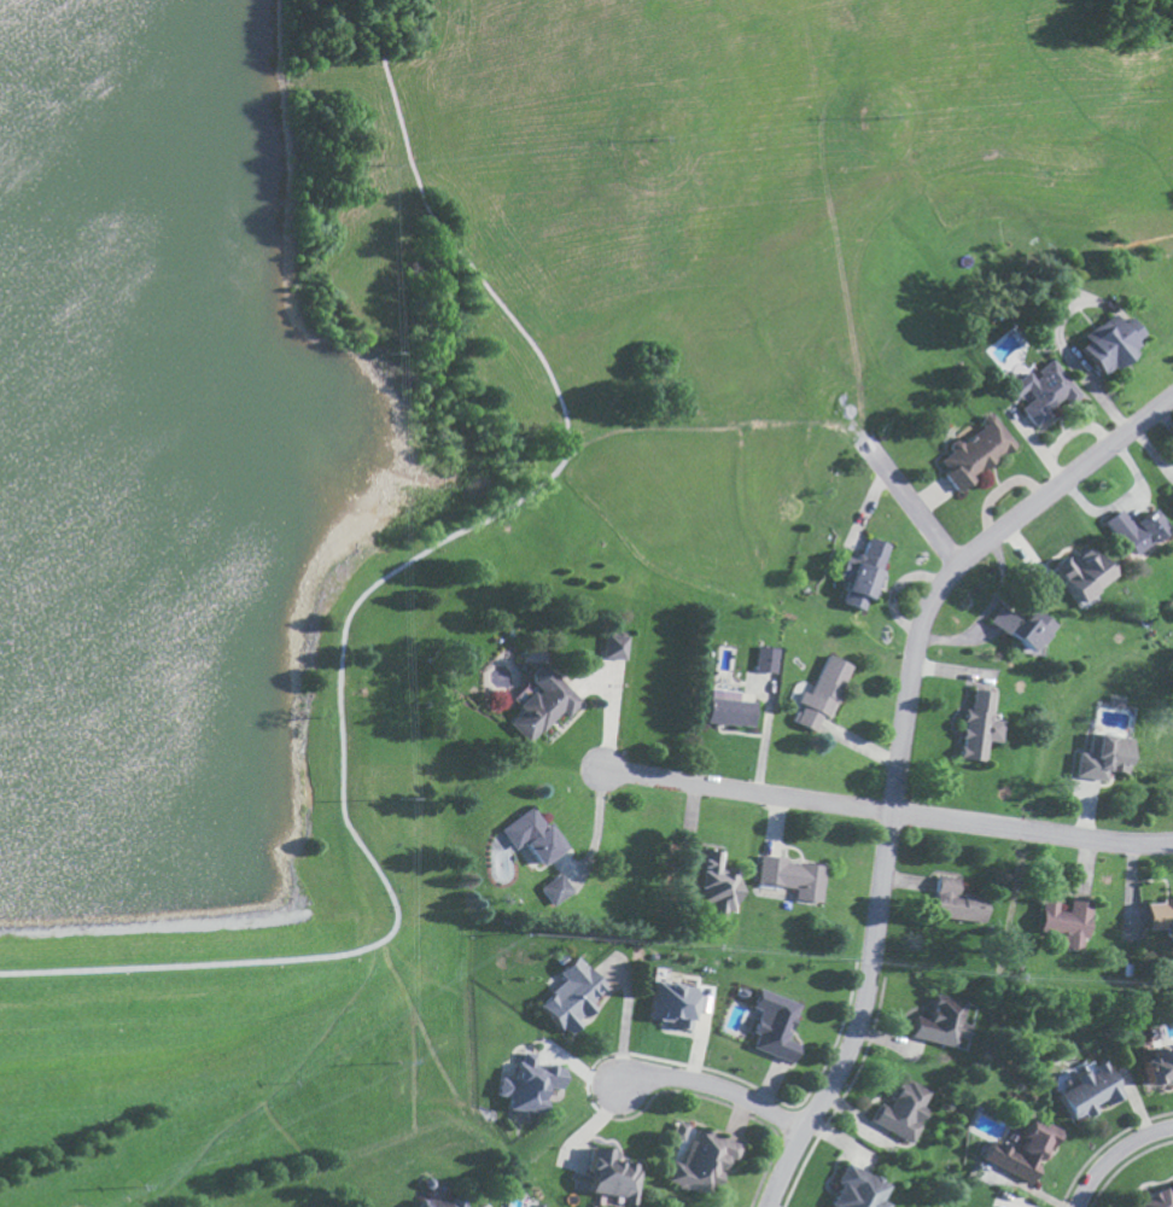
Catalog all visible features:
building: (1113, 343)
building: (1043, 391)
building: (973, 453)
park: (245, 468)
road: (1131, 502)
road: (909, 505)
building: (1138, 530)
building: (873, 553)
building: (1081, 573)
building: (858, 587)
road: (373, 593)
building: (1020, 626)
building: (612, 647)
building: (766, 659)
building: (822, 693)
building: (537, 704)
building: (725, 710)
building: (980, 727)
road: (899, 756)
building: (1108, 758)
road: (888, 814)
building: (527, 836)
building: (790, 877)
building: (713, 885)
building: (550, 891)
building: (957, 903)
building: (1161, 916)
building: (1069, 922)
dam: (176, 945)
building: (568, 995)
building: (671, 1002)
building: (701, 1002)
building: (944, 1020)
building: (771, 1025)
building: (1159, 1062)
building: (526, 1081)
building: (1092, 1089)
road: (712, 1094)
building: (901, 1109)
building: (677, 1130)
building: (1022, 1149)
building: (701, 1160)
road: (1121, 1164)
building: (611, 1174)
building: (857, 1189)
building: (1156, 1197)
building: (439, 1202)
building: (532, 1206)

